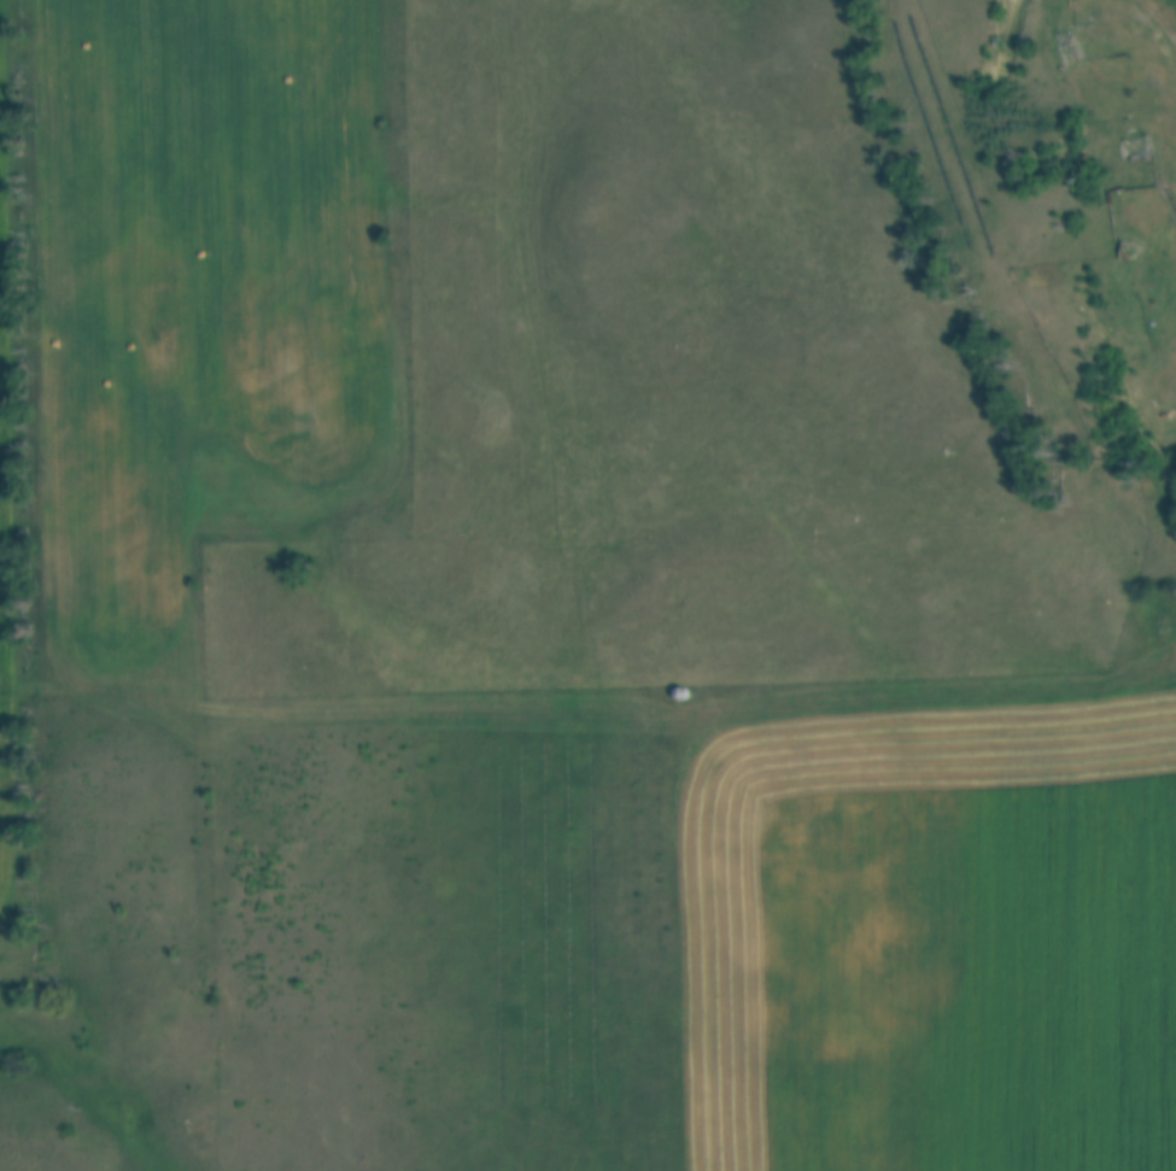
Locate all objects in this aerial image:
road: (1157, 24)
building: (1136, 147)

